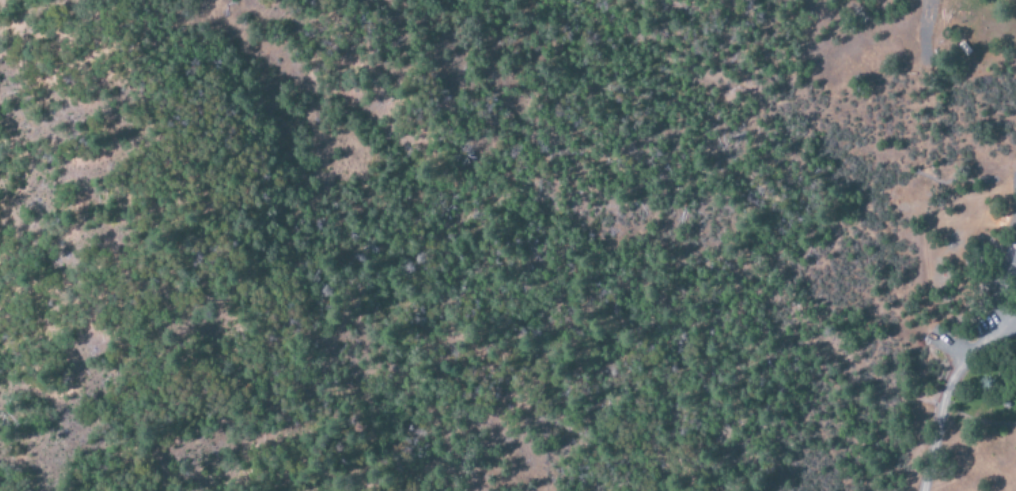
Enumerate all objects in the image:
building: (1014, 255)

